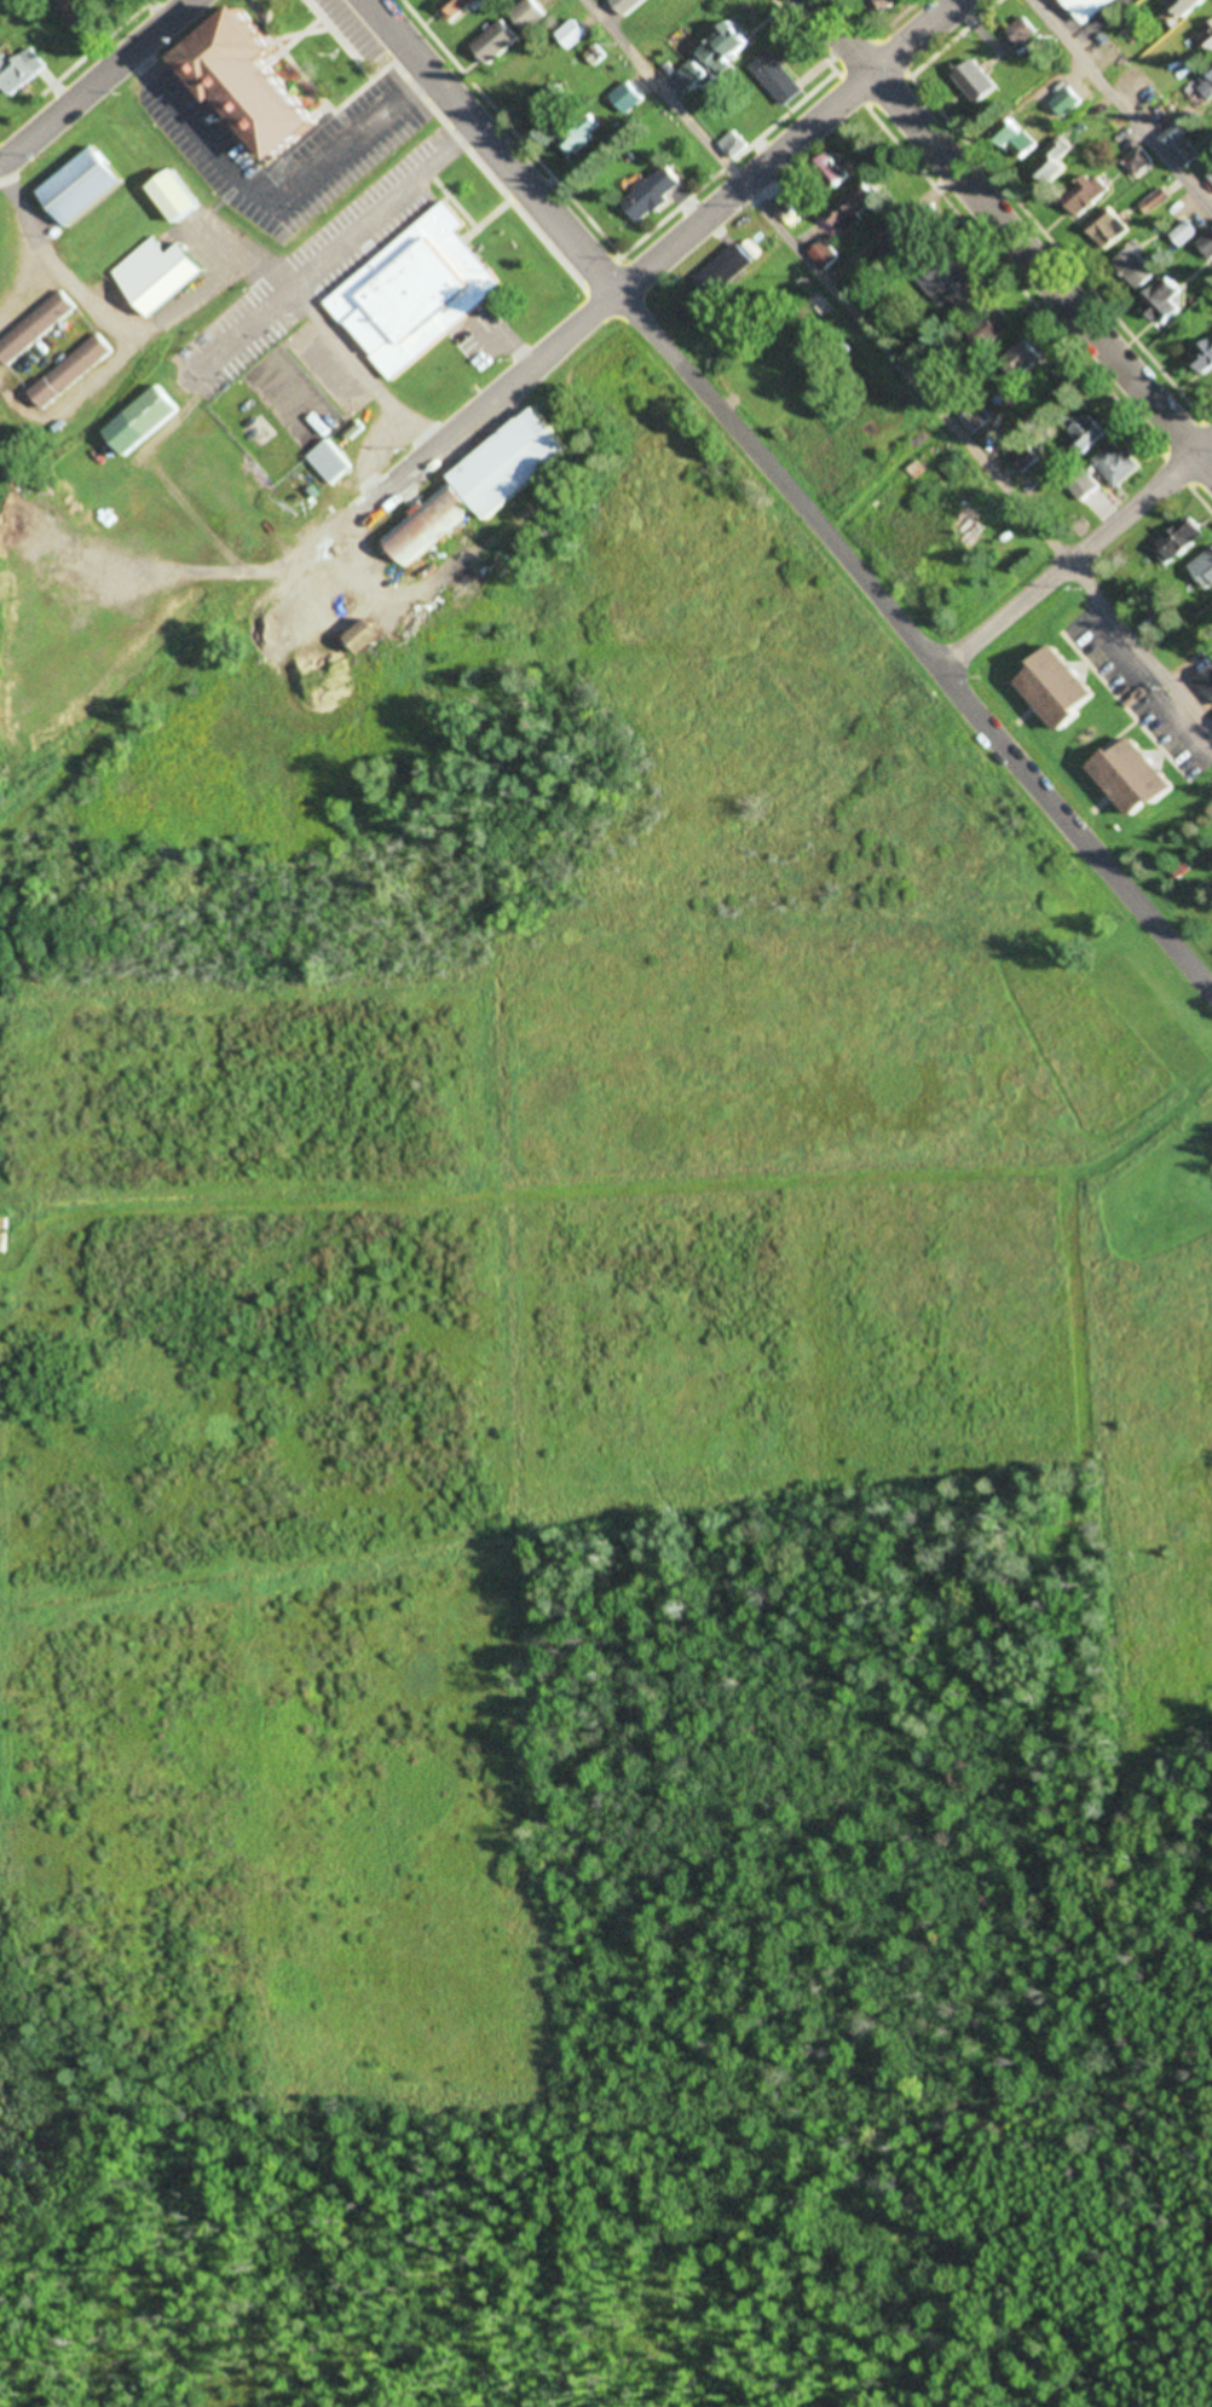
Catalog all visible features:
building: (885, 4)
building: (629, 5)
building: (1188, 5)
building: (1093, 7)
building: (458, 8)
road: (157, 10)
building: (81, 15)
building: (531, 16)
building: (1023, 31)
building: (575, 35)
building: (497, 44)
building: (728, 47)
road: (88, 48)
road: (289, 58)
building: (595, 58)
building: (21, 70)
building: (693, 74)
road: (96, 79)
building: (779, 79)
building: (979, 81)
building: (1206, 83)
building: (262, 86)
building: (555, 97)
building: (629, 97)
building: (1067, 103)
road: (1120, 105)
building: (581, 135)
road: (521, 138)
building: (1022, 144)
building: (734, 145)
building: (1185, 154)
building: (1137, 161)
building: (1052, 169)
building: (835, 172)
building: (82, 184)
building: (656, 192)
building: (178, 195)
building: (1084, 195)
building: (1155, 201)
building: (858, 204)
building: (1108, 227)
building: (1184, 232)
road: (1009, 236)
building: (907, 241)
building: (1206, 244)
building: (826, 255)
road: (653, 264)
building: (1136, 267)
building: (160, 272)
building: (726, 272)
building: (948, 281)
building: (417, 292)
building: (1162, 300)
building: (997, 325)
building: (35, 327)
building: (1205, 357)
building: (1027, 358)
road: (901, 362)
building: (71, 370)
building: (143, 420)
building: (1089, 432)
building: (330, 461)
building: (1118, 464)
building: (484, 484)
road: (790, 493)
building: (1179, 541)
road: (1077, 552)
building: (1204, 568)
building: (370, 635)
building: (1063, 688)
building: (1138, 775)

